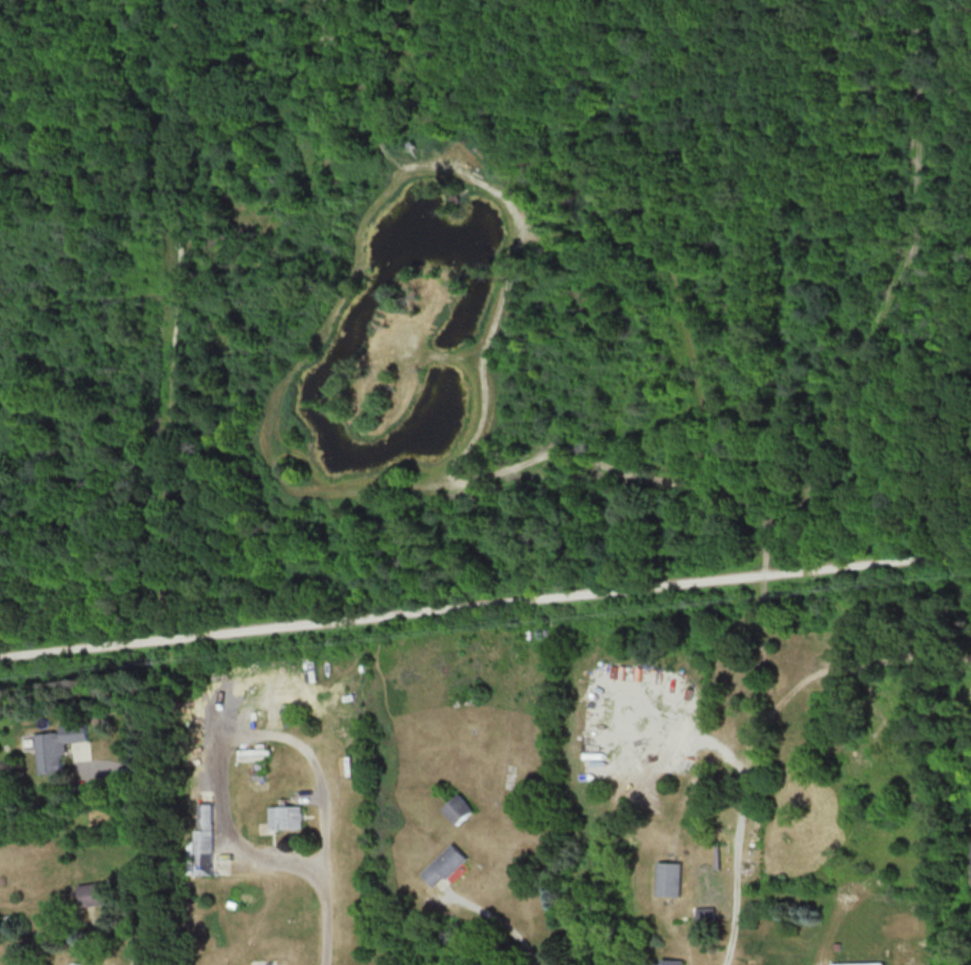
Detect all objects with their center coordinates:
park: (480, 601)
road: (485, 605)
road: (232, 744)
building: (56, 746)
building: (457, 808)
building: (284, 817)
building: (202, 841)
road: (163, 849)
building: (442, 865)
building: (668, 878)
building: (93, 894)
road: (498, 918)
road: (326, 921)
building: (669, 962)
building: (859, 963)

